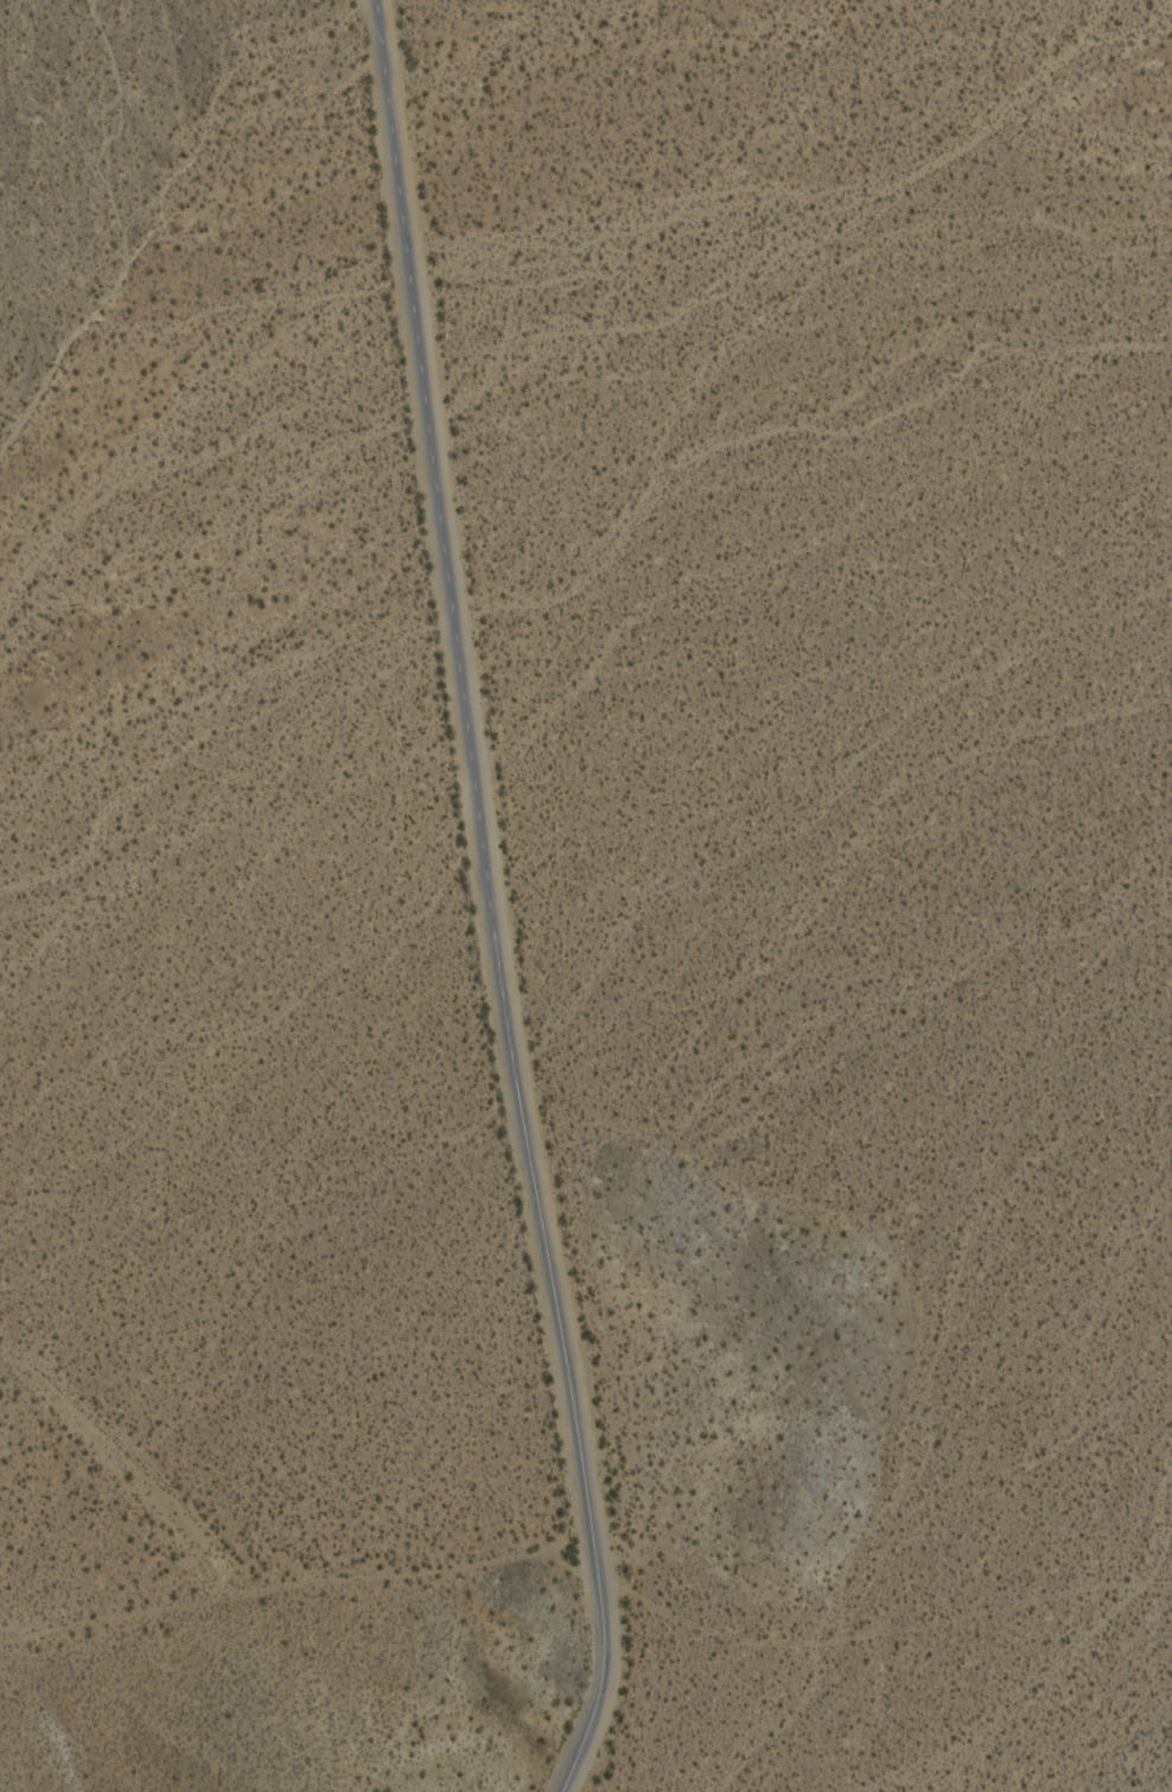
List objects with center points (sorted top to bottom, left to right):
road: (460, 691)
road: (594, 1588)

